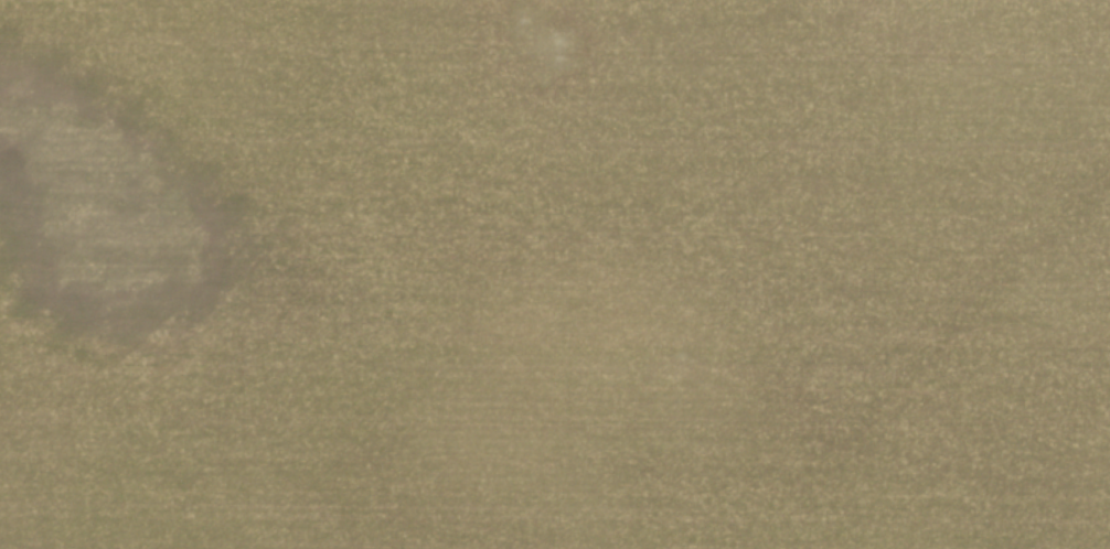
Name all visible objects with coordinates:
crop: (555, 274)

